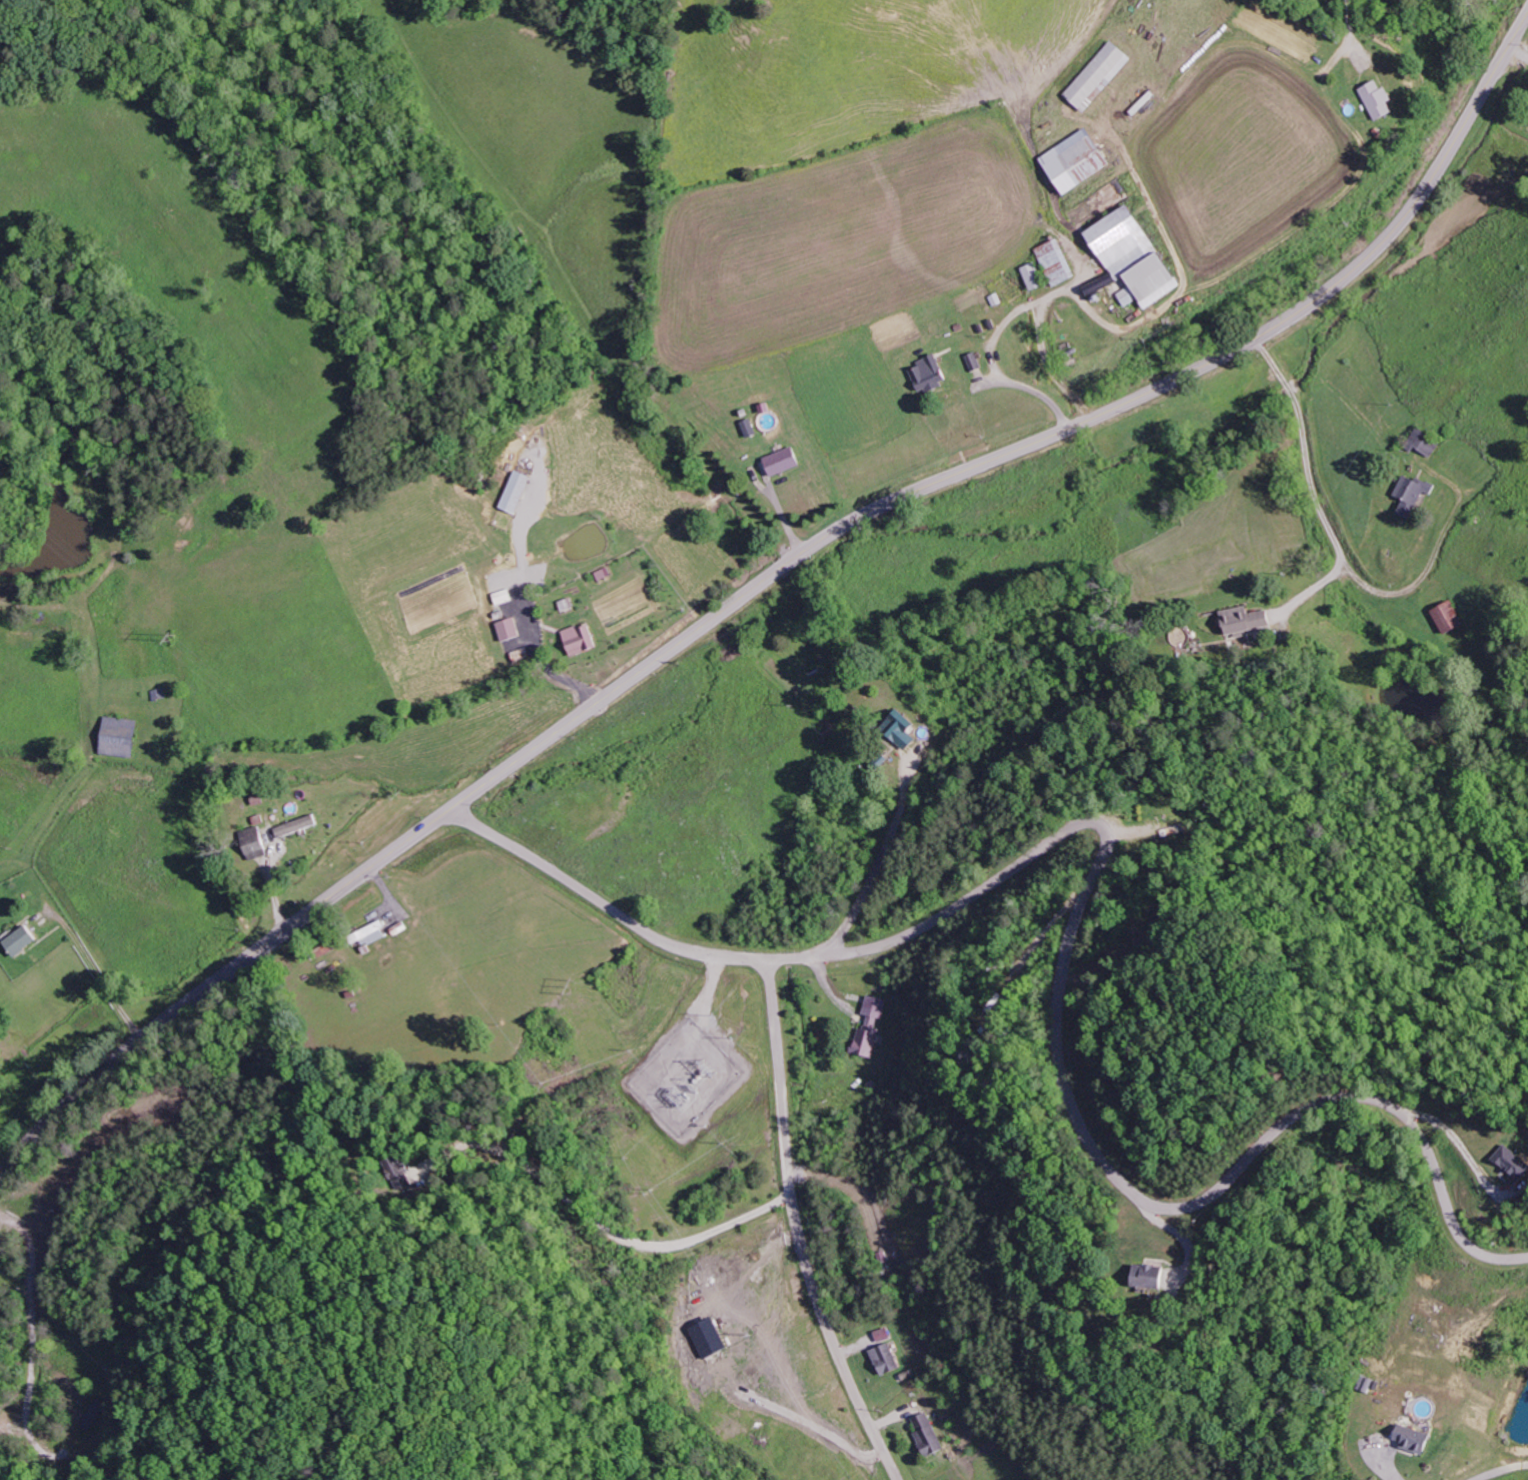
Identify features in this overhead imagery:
building: (1100, 76)
building: (1381, 101)
building: (1080, 161)
building: (1136, 260)
building: (1059, 263)
building: (1037, 277)
building: (932, 373)
building: (1425, 442)
building: (786, 460)
building: (518, 491)
road: (768, 578)
building: (504, 596)
building: (1450, 617)
building: (1247, 619)
building: (511, 629)
power tower: (175, 634)
building: (584, 639)
building: (905, 729)
building: (121, 737)
building: (299, 826)
building: (256, 843)
road: (880, 860)
road: (603, 904)
building: (373, 933)
building: (24, 941)
power tower: (571, 985)
building: (872, 1026)
power substation: (687, 1075)
power tower: (677, 1088)
road: (1083, 1123)
building: (1520, 1161)
building: (401, 1174)
road: (800, 1229)
building: (1156, 1276)
building: (887, 1334)
building: (715, 1338)
building: (890, 1359)
building: (932, 1435)
building: (1417, 1439)

